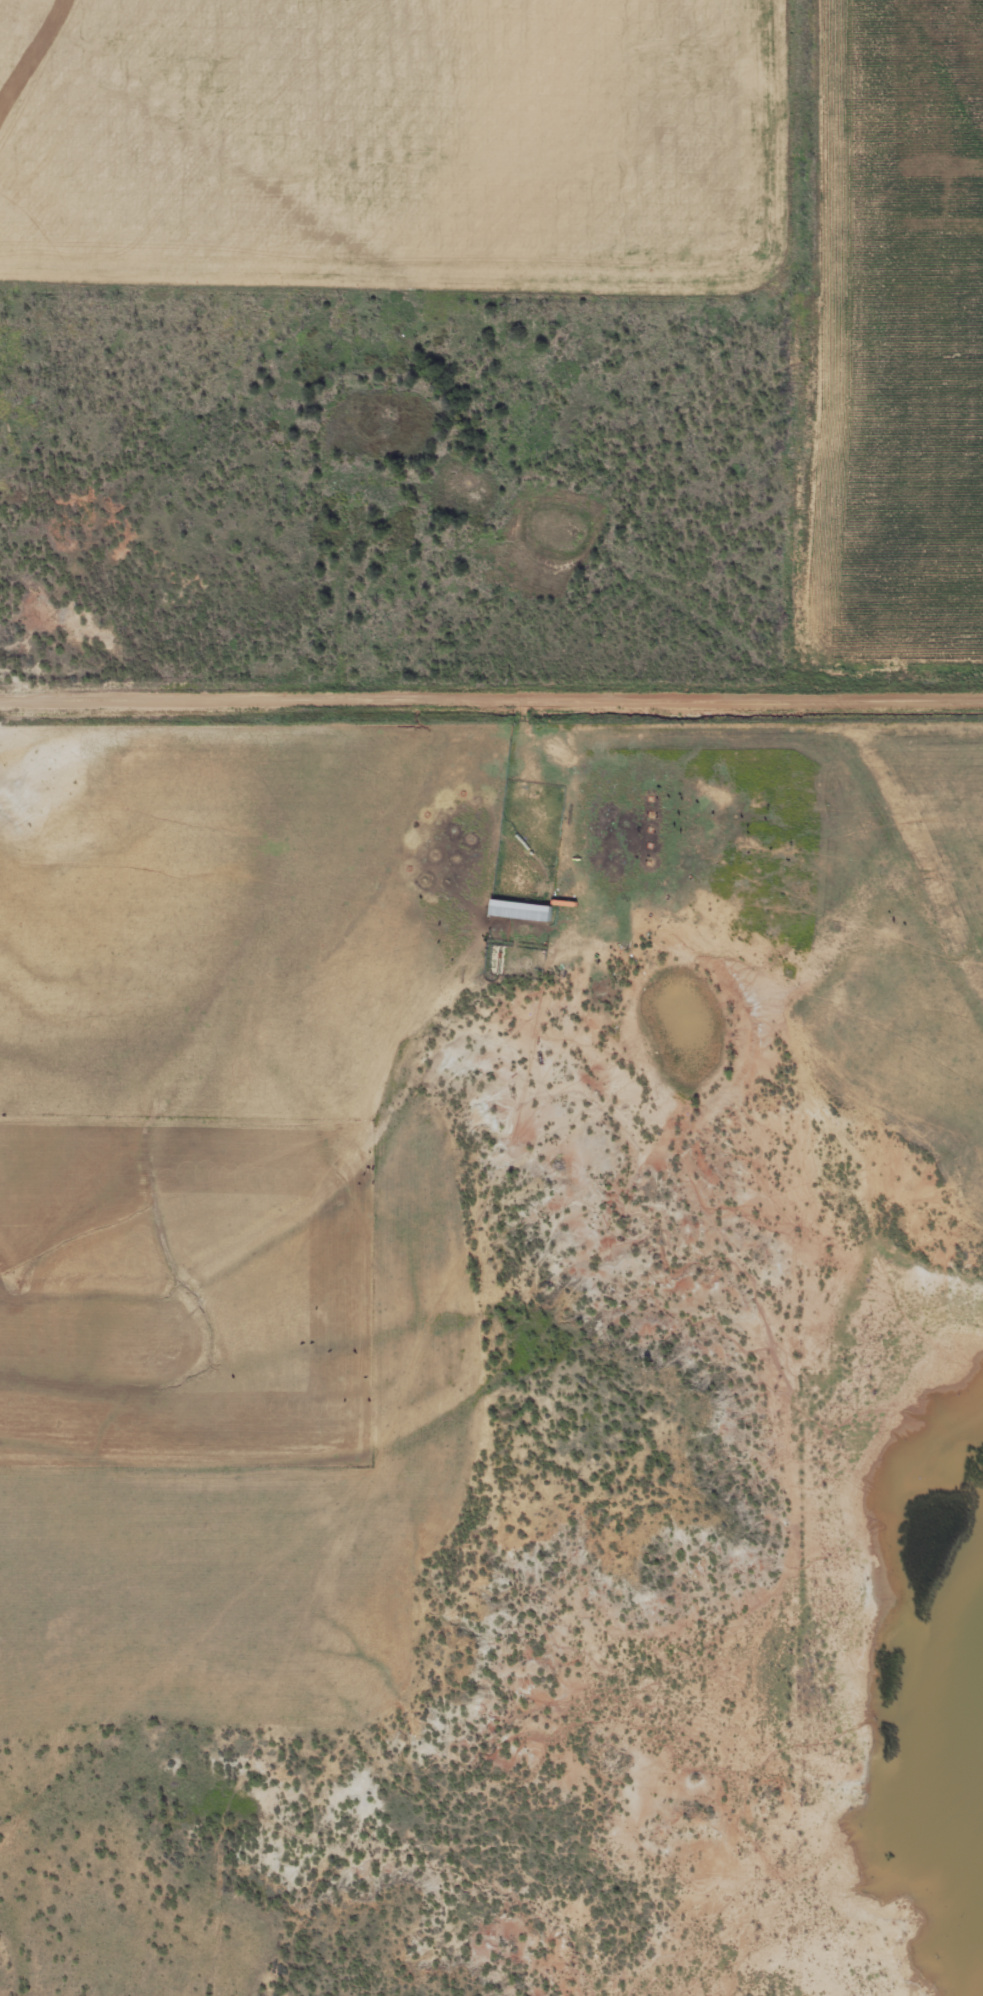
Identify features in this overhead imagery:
road: (491, 696)
building: (521, 912)

